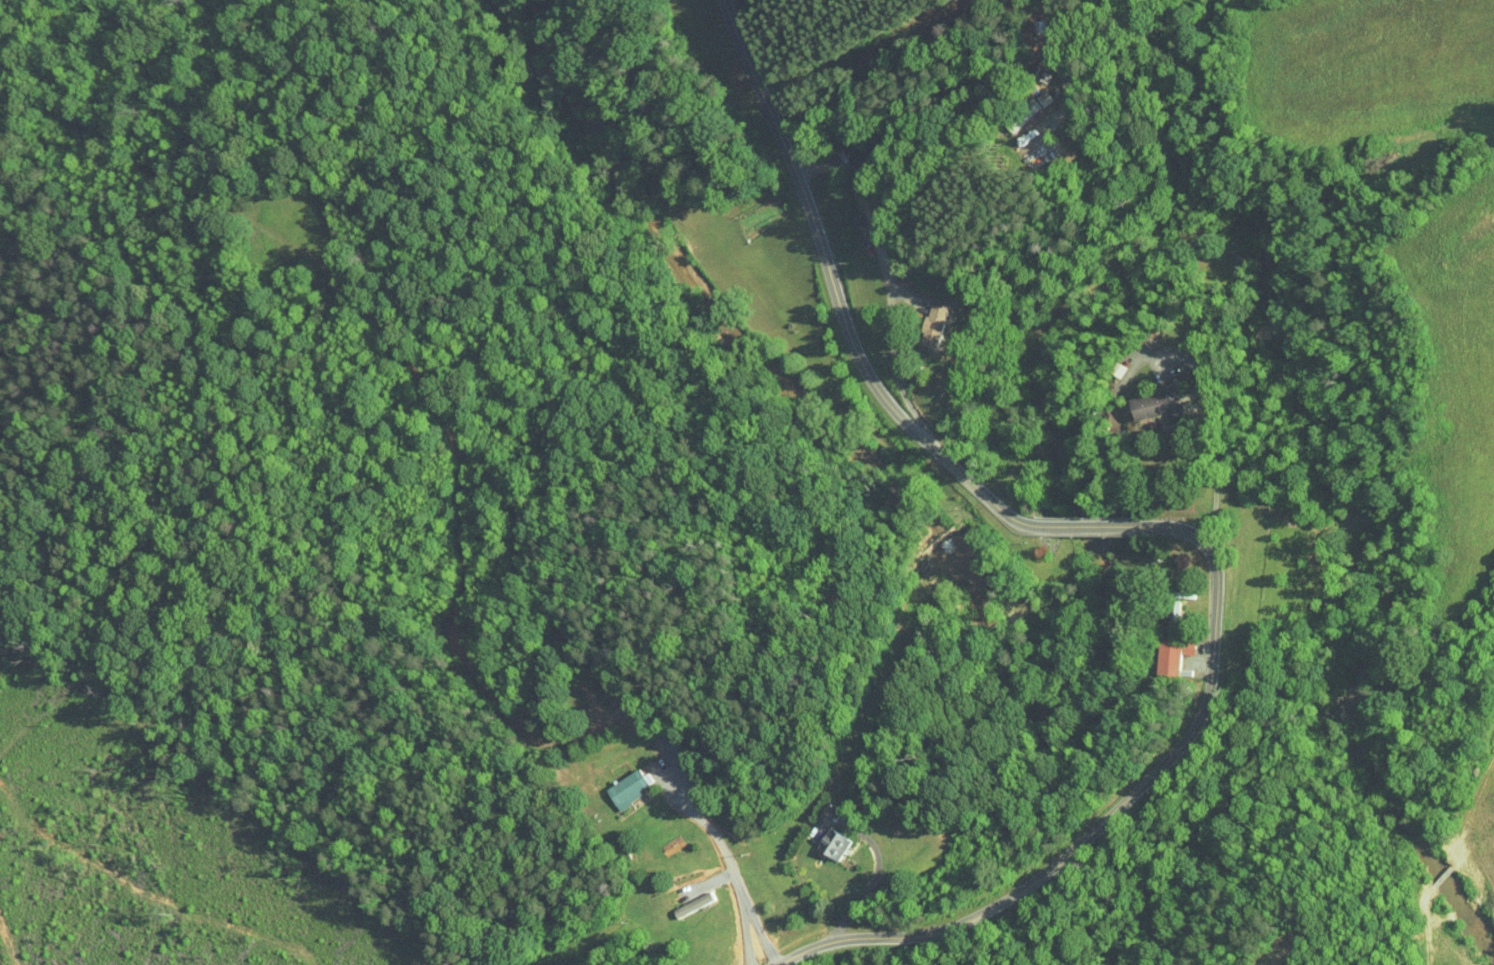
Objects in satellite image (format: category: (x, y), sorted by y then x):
building: (919, 319)
building: (1140, 398)
road: (1217, 429)
road: (1129, 534)
building: (1160, 648)
building: (613, 782)
road: (731, 818)
building: (819, 837)
building: (679, 898)

